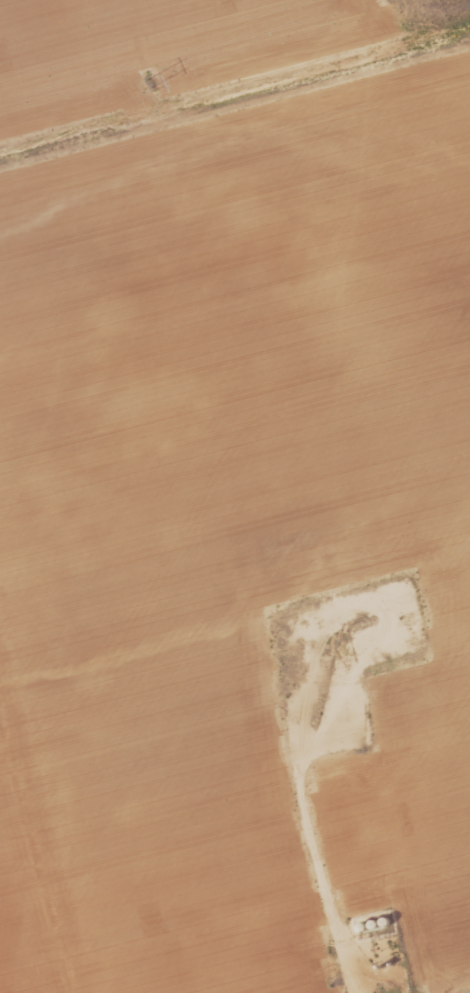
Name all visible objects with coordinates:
power tower: (152, 81)
road: (37, 860)

